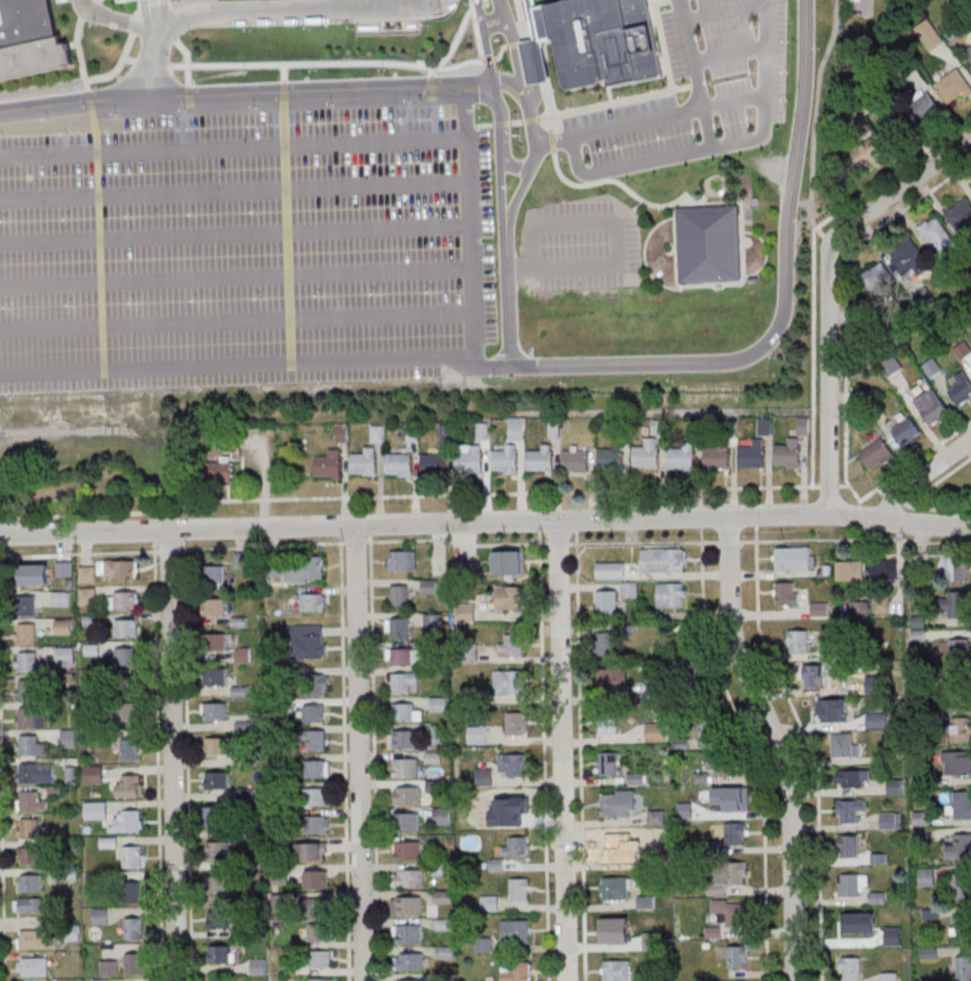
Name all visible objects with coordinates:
road: (517, 0)
parking lot: (65, 1)
road: (99, 1)
road: (867, 4)
road: (473, 5)
road: (139, 7)
road: (90, 9)
road: (520, 9)
road: (281, 12)
road: (728, 12)
road: (495, 15)
road: (118, 19)
building: (27, 22)
road: (137, 23)
building: (537, 23)
street lamp: (96, 26)
road: (157, 28)
road: (498, 28)
road: (480, 36)
road: (833, 37)
road: (487, 39)
building: (605, 41)
road: (457, 44)
road: (519, 44)
road: (74, 45)
road: (156, 48)
road: (80, 52)
road: (502, 52)
road: (731, 54)
building: (969, 57)
building: (34, 58)
road: (189, 59)
road: (129, 60)
road: (491, 61)
building: (538, 63)
road: (153, 64)
road: (329, 64)
road: (542, 65)
road: (286, 73)
road: (698, 74)
road: (464, 80)
road: (513, 80)
road: (81, 83)
road: (435, 86)
road: (217, 94)
road: (468, 94)
road: (287, 99)
road: (191, 102)
road: (90, 107)
road: (699, 109)
building: (926, 109)
road: (531, 112)
road: (539, 119)
road: (503, 124)
road: (486, 126)
road: (287, 127)
road: (97, 139)
road: (554, 142)
road: (348, 143)
road: (508, 148)
road: (501, 150)
building: (867, 151)
road: (814, 154)
road: (676, 156)
road: (893, 171)
road: (720, 174)
road: (630, 191)
road: (235, 192)
road: (632, 212)
building: (961, 215)
road: (236, 235)
road: (618, 236)
building: (937, 236)
road: (828, 238)
parking lot: (584, 245)
building: (711, 245)
parking lot: (248, 247)
road: (832, 247)
road: (290, 250)
building: (909, 258)
road: (101, 261)
road: (237, 278)
building: (877, 279)
road: (846, 289)
road: (510, 295)
road: (785, 304)
road: (238, 321)
road: (813, 354)
road: (257, 364)
building: (894, 365)
building: (961, 392)
building: (932, 408)
road: (666, 411)
building: (658, 427)
building: (517, 428)
building: (483, 431)
building: (906, 432)
building: (378, 433)
building: (448, 433)
building: (790, 454)
building: (648, 455)
building: (754, 455)
building: (876, 455)
building: (719, 456)
building: (684, 457)
road: (948, 457)
building: (614, 458)
building: (507, 459)
building: (543, 460)
building: (473, 461)
building: (366, 463)
building: (577, 463)
building: (331, 465)
road: (907, 465)
building: (401, 466)
building: (436, 466)
road: (829, 468)
building: (221, 471)
road: (938, 480)
road: (829, 485)
road: (844, 485)
road: (881, 490)
road: (901, 492)
road: (409, 494)
road: (894, 497)
road: (936, 508)
road: (778, 515)
road: (855, 516)
road: (756, 520)
road: (927, 521)
road: (868, 522)
road: (702, 523)
road: (540, 525)
road: (576, 525)
road: (364, 526)
road: (371, 530)
road: (341, 531)
road: (864, 533)
road: (154, 536)
road: (184, 536)
road: (855, 539)
road: (456, 540)
road: (355, 541)
road: (728, 541)
road: (644, 542)
road: (264, 543)
road: (558, 543)
road: (172, 550)
road: (80, 553)
building: (792, 558)
building: (664, 559)
building: (405, 561)
building: (509, 562)
building: (118, 568)
building: (958, 568)
building: (305, 569)
building: (464, 569)
building: (611, 570)
building: (884, 570)
building: (850, 571)
building: (26, 574)
building: (87, 574)
building: (216, 575)
building: (630, 589)
building: (787, 593)
building: (672, 594)
building: (88, 595)
building: (400, 595)
building: (508, 597)
building: (61, 598)
building: (124, 600)
building: (607, 602)
building: (314, 603)
building: (27, 604)
building: (957, 604)
building: (216, 606)
building: (819, 608)
building: (434, 620)
building: (63, 626)
building: (127, 627)
building: (398, 627)
building: (26, 633)
building: (216, 641)
building: (311, 641)
building: (798, 641)
building: (606, 644)
building: (510, 645)
building: (959, 648)
building: (65, 654)
building: (128, 654)
building: (243, 654)
building: (404, 658)
building: (28, 661)
building: (816, 672)
building: (217, 676)
building: (613, 678)
building: (404, 681)
building: (508, 681)
building: (316, 684)
building: (27, 689)
building: (469, 694)
building: (438, 704)
building: (216, 710)
building: (831, 710)
building: (132, 711)
building: (405, 713)
building: (316, 714)
building: (32, 717)
building: (877, 720)
building: (517, 723)
building: (608, 725)
building: (707, 730)
building: (960, 730)
building: (656, 732)
building: (441, 734)
building: (477, 734)
building: (69, 737)
building: (403, 738)
building: (317, 740)
building: (31, 745)
building: (217, 745)
road: (778, 745)
building: (844, 746)
road: (810, 748)
building: (131, 749)
road: (753, 750)
road: (562, 751)
road: (360, 753)
road: (545, 755)
road: (581, 755)
road: (173, 756)
road: (375, 757)
road: (345, 758)
road: (159, 761)
road: (188, 761)
building: (513, 764)
building: (608, 764)
building: (957, 764)
building: (721, 765)
building: (406, 767)
building: (317, 769)
building: (37, 772)
building: (94, 774)
building: (483, 777)
building: (854, 778)
building: (217, 780)
building: (131, 784)
building: (895, 787)
building: (407, 796)
building: (730, 797)
building: (316, 798)
building: (31, 801)
building: (620, 803)
building: (961, 805)
building: (513, 806)
building: (96, 809)
building: (850, 810)
building: (442, 817)
building: (486, 817)
building: (218, 819)
building: (891, 819)
road: (3, 820)
building: (408, 822)
building: (317, 825)
building: (29, 827)
building: (735, 833)
building: (847, 845)
building: (611, 846)
building: (959, 847)
building: (517, 848)
building: (218, 849)
building: (407, 850)
building: (313, 851)
building: (31, 855)
building: (133, 856)
building: (727, 876)
building: (408, 877)
building: (926, 877)
building: (319, 880)
building: (32, 883)
building: (852, 883)
building: (220, 885)
building: (959, 887)
building: (614, 888)
building: (519, 889)
building: (134, 892)
building: (443, 896)
building: (489, 903)
building: (30, 904)
building: (407, 905)
building: (319, 908)
building: (730, 911)
building: (101, 915)
building: (220, 919)
building: (960, 925)
building: (847, 927)
building: (134, 928)
building: (616, 930)
building: (515, 931)
building: (320, 933)
building: (408, 933)
building: (37, 939)
building: (483, 944)
building: (445, 952)
building: (222, 953)
building: (737, 956)
building: (321, 960)
building: (134, 963)
building: (412, 963)
building: (34, 966)
building: (258, 966)
building: (110, 968)
building: (850, 968)
building: (963, 968)
building: (617, 970)
building: (515, 971)
building: (889, 976)
building: (101, 980)
building: (221, 980)
building: (323, 980)
building: (409, 980)

